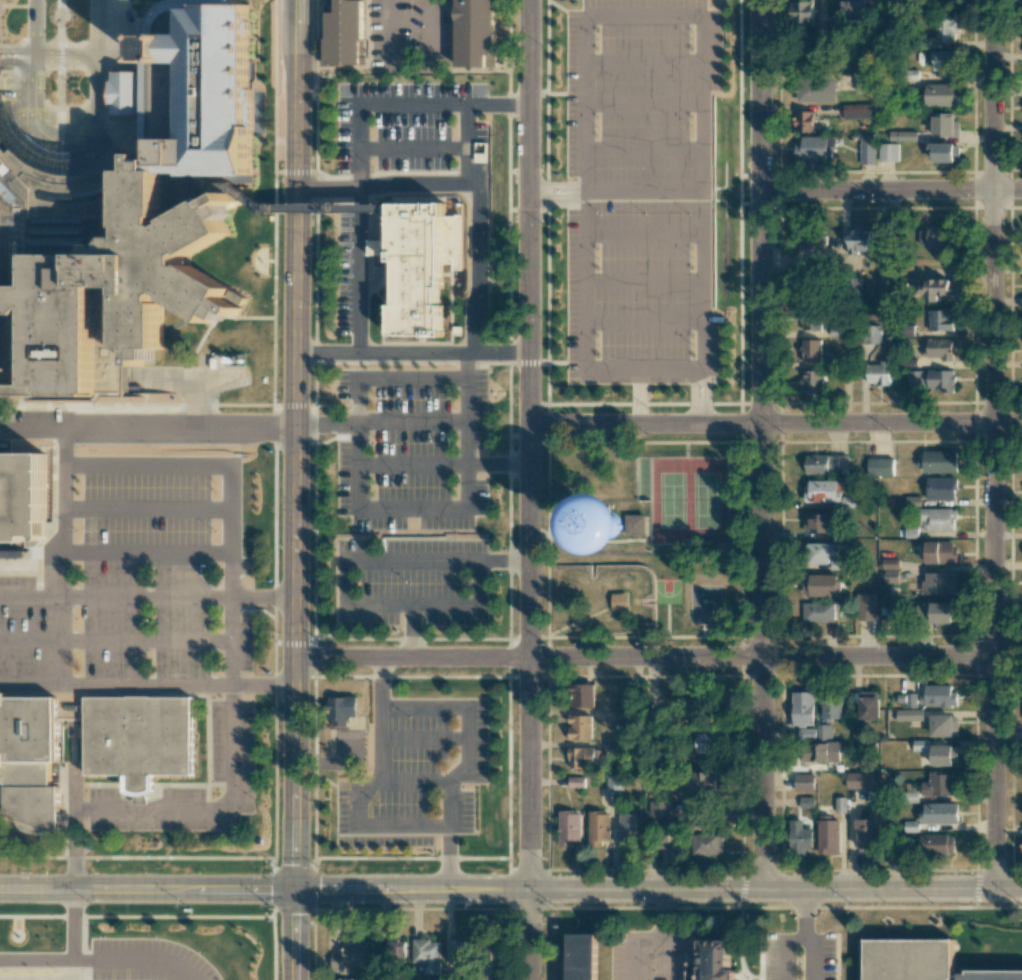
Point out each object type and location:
building: (854, 8)
road: (587, 17)
building: (804, 17)
building: (945, 29)
building: (346, 33)
building: (476, 33)
parking lot: (412, 36)
building: (866, 51)
road: (644, 60)
building: (942, 60)
road: (412, 70)
building: (863, 83)
building: (816, 90)
building: (124, 92)
building: (941, 94)
road: (644, 102)
road: (496, 105)
building: (857, 111)
building: (804, 121)
building: (945, 125)
parking lot: (405, 128)
road: (65, 135)
building: (902, 135)
road: (643, 147)
road: (361, 148)
building: (814, 148)
building: (867, 149)
building: (888, 152)
building: (944, 152)
road: (470, 185)
road: (892, 188)
parking lot: (641, 189)
road: (643, 190)
road: (557, 191)
building: (135, 231)
road: (644, 234)
building: (937, 235)
building: (815, 239)
building: (859, 240)
road: (644, 278)
road: (353, 283)
building: (855, 287)
building: (885, 288)
building: (810, 319)
building: (940, 320)
road: (644, 322)
building: (870, 334)
building: (939, 348)
building: (811, 350)
road: (412, 351)
building: (878, 373)
building: (930, 378)
road: (358, 379)
building: (812, 383)
road: (638, 391)
road: (700, 391)
road: (412, 420)
road: (775, 423)
road: (146, 427)
road: (762, 445)
road: (991, 445)
parking lot: (412, 449)
building: (938, 461)
road: (412, 463)
road: (490, 464)
building: (826, 464)
building: (880, 466)
building: (181, 479)
road: (67, 486)
road: (294, 489)
building: (941, 489)
road: (529, 490)
building: (827, 493)
building: (22, 498)
park: (688, 499)
building: (913, 501)
building: (938, 519)
water tower: (620, 522)
building: (818, 523)
building: (638, 524)
park: (645, 540)
road: (147, 543)
building: (940, 552)
building: (9, 553)
building: (821, 555)
road: (417, 560)
building: (889, 564)
building: (890, 576)
parking lot: (410, 580)
building: (940, 583)
building: (820, 585)
park: (666, 591)
road: (115, 598)
road: (263, 598)
building: (620, 601)
building: (865, 607)
building: (818, 612)
building: (936, 612)
road: (62, 613)
road: (232, 614)
road: (411, 626)
road: (116, 641)
parking lot: (146, 650)
road: (658, 657)
road: (263, 685)
building: (582, 695)
building: (938, 695)
building: (869, 705)
road: (462, 706)
building: (696, 706)
building: (802, 708)
building: (832, 708)
road: (231, 709)
building: (341, 710)
building: (909, 715)
building: (944, 725)
building: (580, 727)
building: (823, 731)
building: (856, 732)
building: (805, 734)
road: (422, 737)
building: (708, 743)
building: (89, 746)
building: (821, 752)
building: (944, 755)
building: (585, 756)
parking lot: (415, 776)
building: (858, 780)
building: (614, 781)
road: (407, 782)
building: (698, 782)
building: (804, 782)
building: (939, 784)
building: (806, 802)
building: (660, 809)
building: (939, 813)
road: (374, 824)
building: (569, 827)
building: (598, 828)
building: (629, 829)
building: (870, 831)
building: (829, 835)
building: (798, 837)
building: (707, 844)
building: (937, 844)
road: (74, 850)
traffic signals: (295, 890)
road: (510, 891)
road: (751, 907)
road: (999, 907)
road: (659, 914)
road: (803, 915)
road: (976, 935)
road: (73, 942)
road: (741, 944)
road: (630, 945)
building: (396, 948)
road: (680, 949)
road: (783, 949)
building: (459, 952)
parking lot: (655, 954)
road: (813, 954)
building: (351, 955)
parking lot: (1011, 955)
building: (427, 956)
road: (760, 956)
road: (839, 956)
building: (584, 957)
road: (36, 959)
road: (135, 959)
parking lot: (147, 960)
building: (495, 961)
parking lot: (780, 961)
building: (911, 961)
building: (716, 962)
road: (755, 977)
building: (344, 979)

